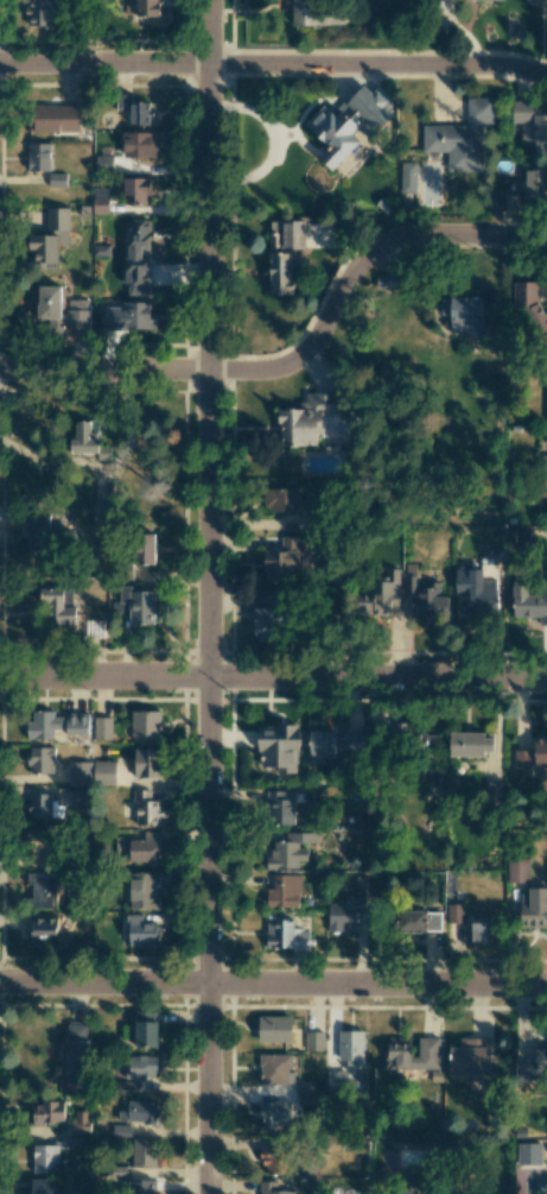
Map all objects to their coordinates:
building: (139, 7)
building: (38, 13)
building: (316, 14)
road: (273, 65)
building: (134, 109)
building: (53, 118)
building: (529, 120)
building: (348, 122)
building: (462, 137)
building: (140, 144)
building: (38, 157)
building: (103, 163)
building: (407, 177)
building: (57, 179)
building: (535, 183)
building: (135, 190)
building: (100, 201)
building: (505, 202)
building: (138, 232)
building: (286, 235)
building: (50, 240)
building: (280, 273)
building: (388, 280)
building: (49, 302)
building: (528, 307)
building: (463, 312)
building: (76, 314)
building: (132, 316)
road: (301, 352)
building: (546, 387)
building: (311, 418)
building: (545, 436)
building: (83, 438)
building: (545, 462)
building: (281, 499)
building: (546, 504)
building: (101, 511)
building: (44, 538)
building: (145, 548)
building: (284, 560)
building: (477, 590)
building: (382, 593)
road: (209, 596)
building: (426, 596)
building: (529, 602)
building: (58, 605)
building: (138, 605)
building: (267, 614)
road: (273, 677)
building: (55, 724)
building: (146, 724)
building: (102, 728)
building: (352, 741)
building: (470, 744)
building: (322, 745)
building: (278, 747)
building: (532, 756)
building: (40, 759)
building: (146, 763)
building: (103, 772)
building: (79, 773)
building: (494, 791)
building: (79, 795)
building: (44, 807)
building: (280, 807)
building: (146, 808)
building: (39, 845)
building: (145, 849)
building: (290, 851)
building: (517, 870)
building: (44, 887)
building: (144, 890)
building: (284, 891)
building: (533, 908)
building: (346, 910)
building: (454, 912)
building: (419, 921)
building: (43, 928)
building: (483, 931)
building: (141, 933)
building: (285, 935)
road: (273, 985)
building: (146, 1029)
building: (274, 1029)
building: (313, 1041)
building: (350, 1047)
building: (76, 1051)
building: (397, 1053)
building: (428, 1056)
building: (470, 1057)
building: (532, 1063)
building: (140, 1067)
building: (275, 1068)
building: (336, 1081)
building: (304, 1087)
building: (47, 1112)
building: (139, 1112)
building: (274, 1113)
building: (81, 1122)
building: (121, 1130)
building: (144, 1152)
building: (529, 1157)
building: (44, 1158)
building: (274, 1161)
building: (42, 1186)
building: (141, 1187)
building: (272, 1188)
building: (407, 1192)

